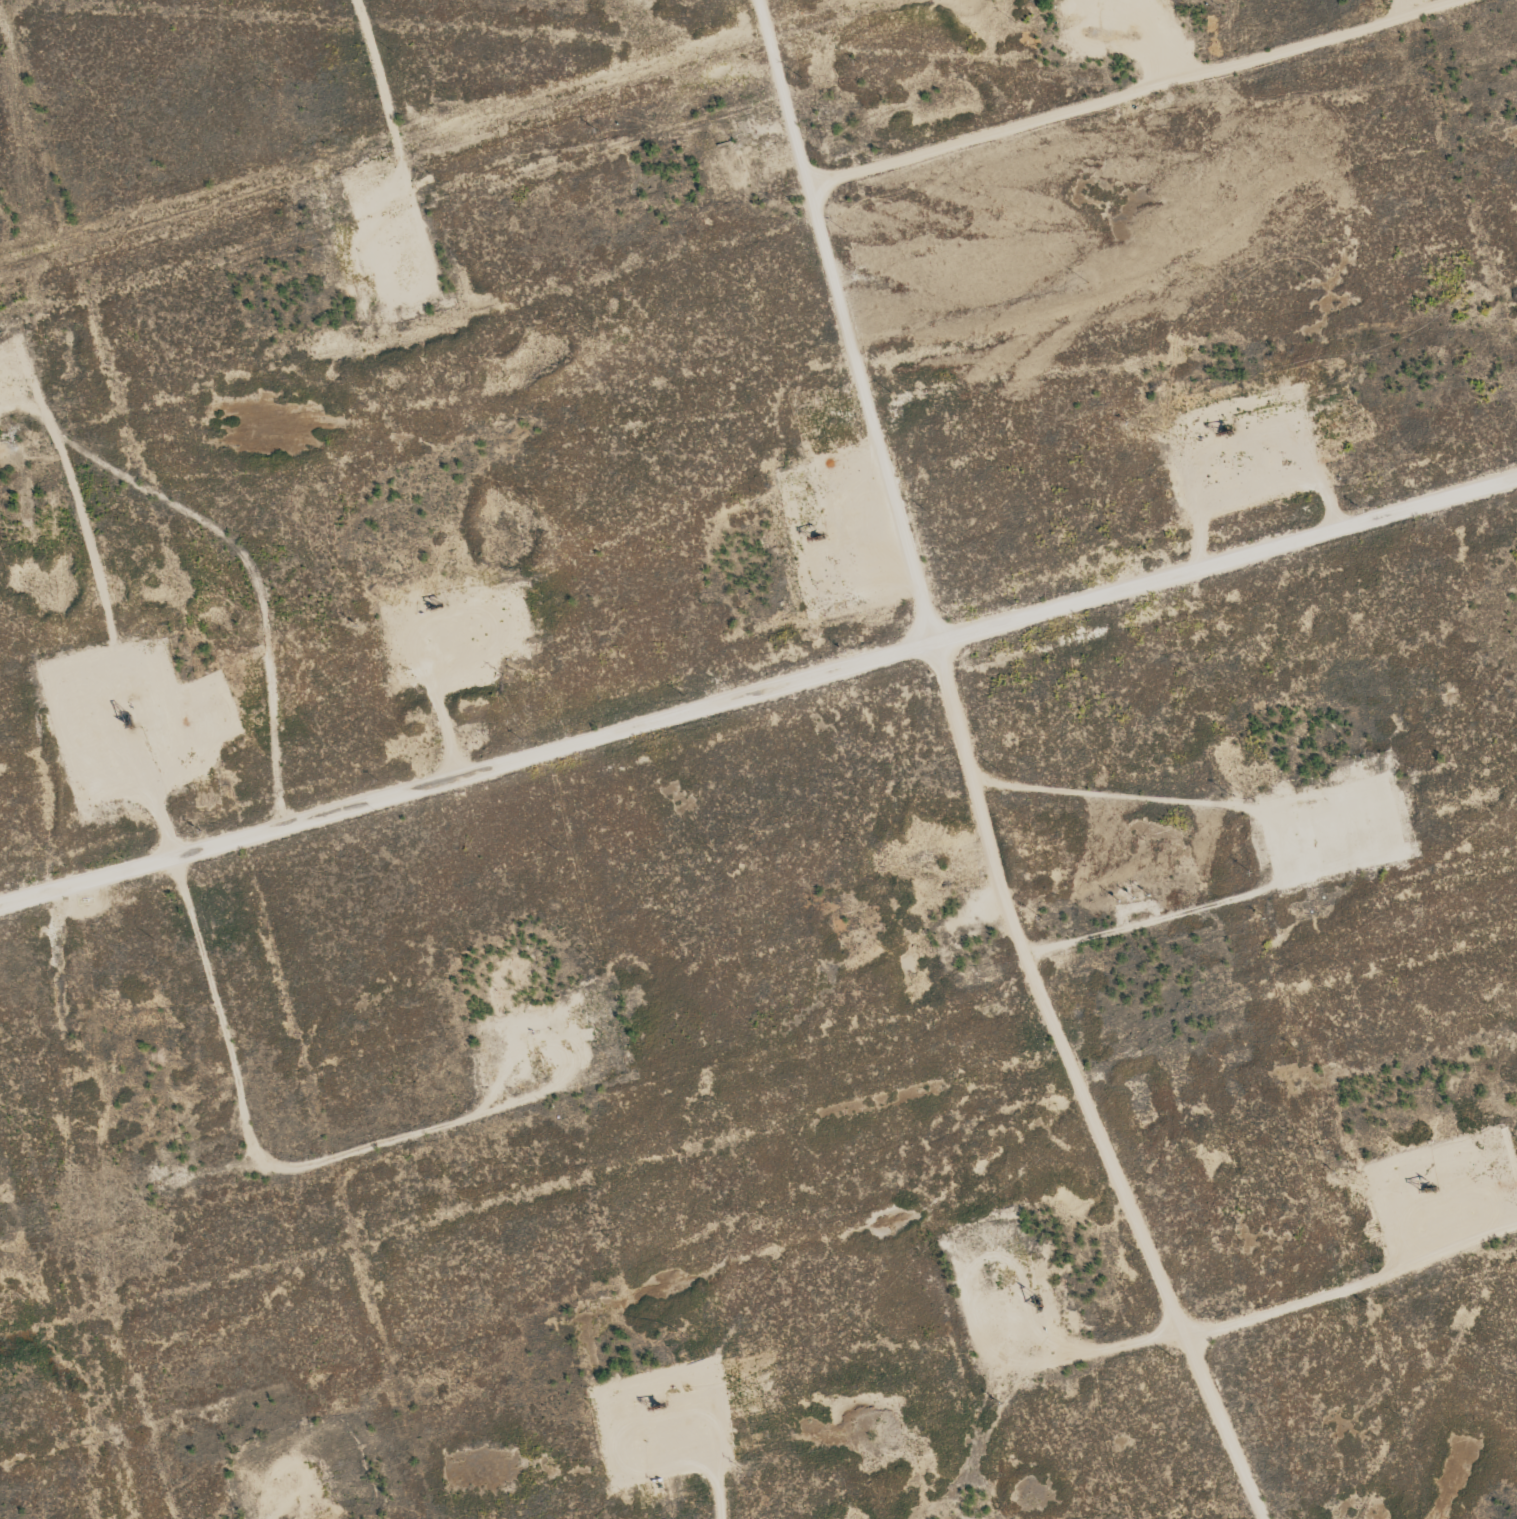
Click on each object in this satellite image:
road: (1137, 93)
petroleum well: (1229, 430)
petroleum well: (815, 542)
petroleum well: (439, 607)
road: (757, 688)
petroleum well: (111, 717)
road: (971, 773)
petroleum well: (1421, 1193)
petroleum well: (660, 1400)

